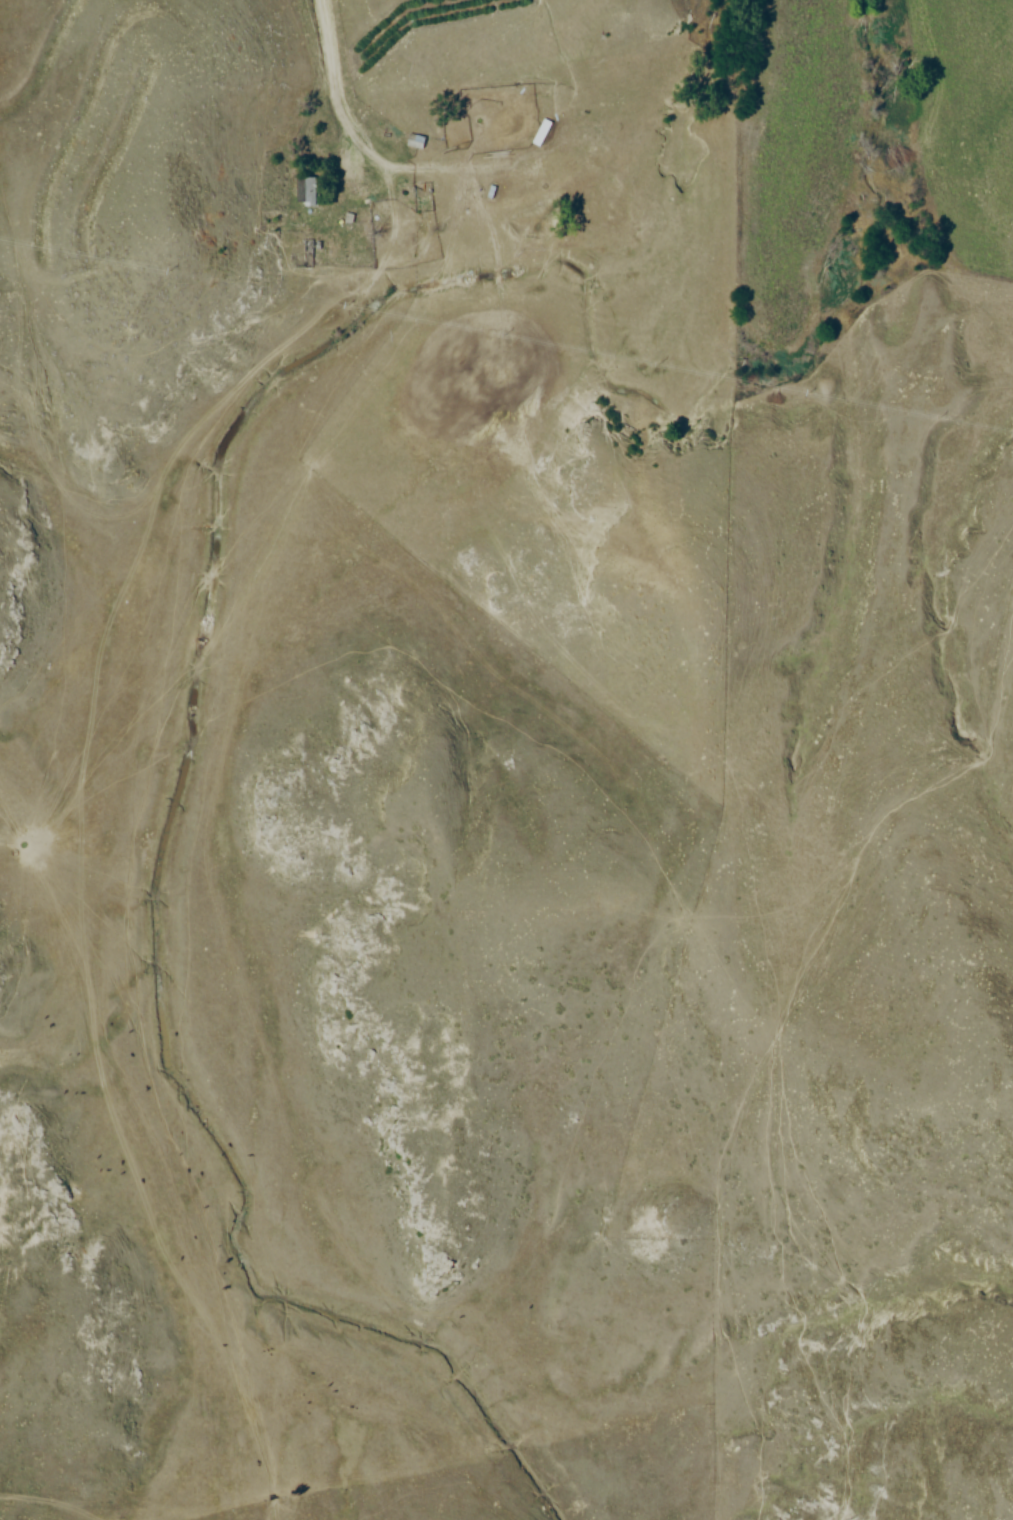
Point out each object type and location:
road: (337, 88)
building: (543, 134)
building: (417, 142)
building: (312, 192)

